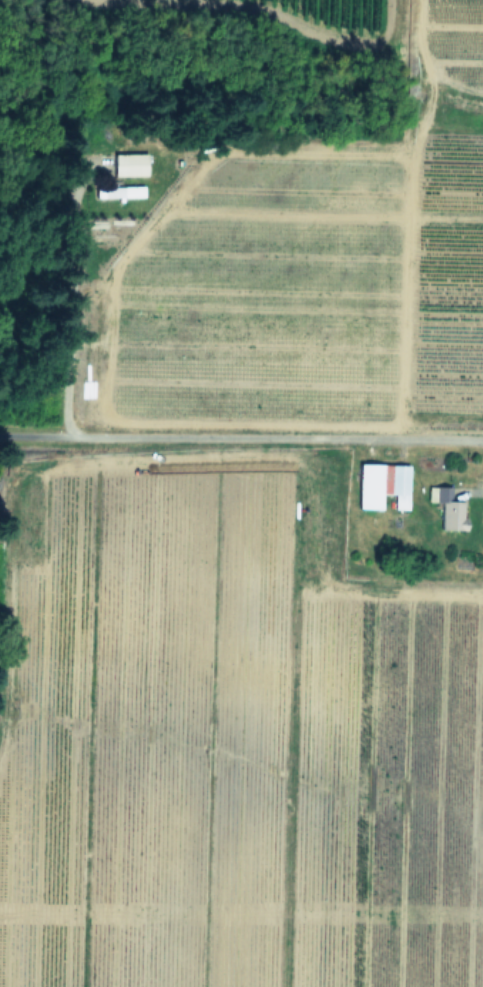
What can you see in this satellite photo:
building: (129, 164)
building: (119, 192)
road: (67, 323)
road: (241, 438)
building: (382, 486)
building: (452, 512)
crop: (251, 532)

